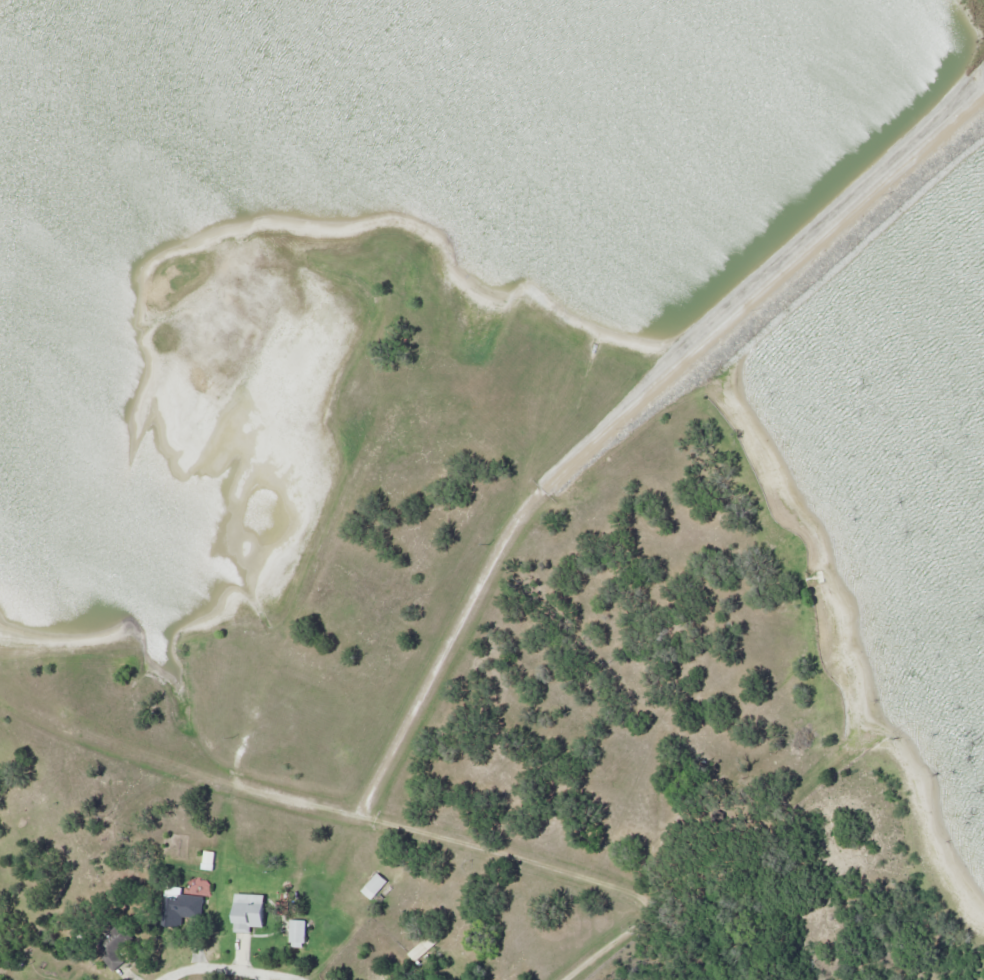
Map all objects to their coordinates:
road: (483, 578)
building: (378, 882)
building: (183, 906)
building: (249, 913)
building: (299, 934)
building: (116, 945)
building: (423, 950)
building: (458, 955)
road: (224, 970)

